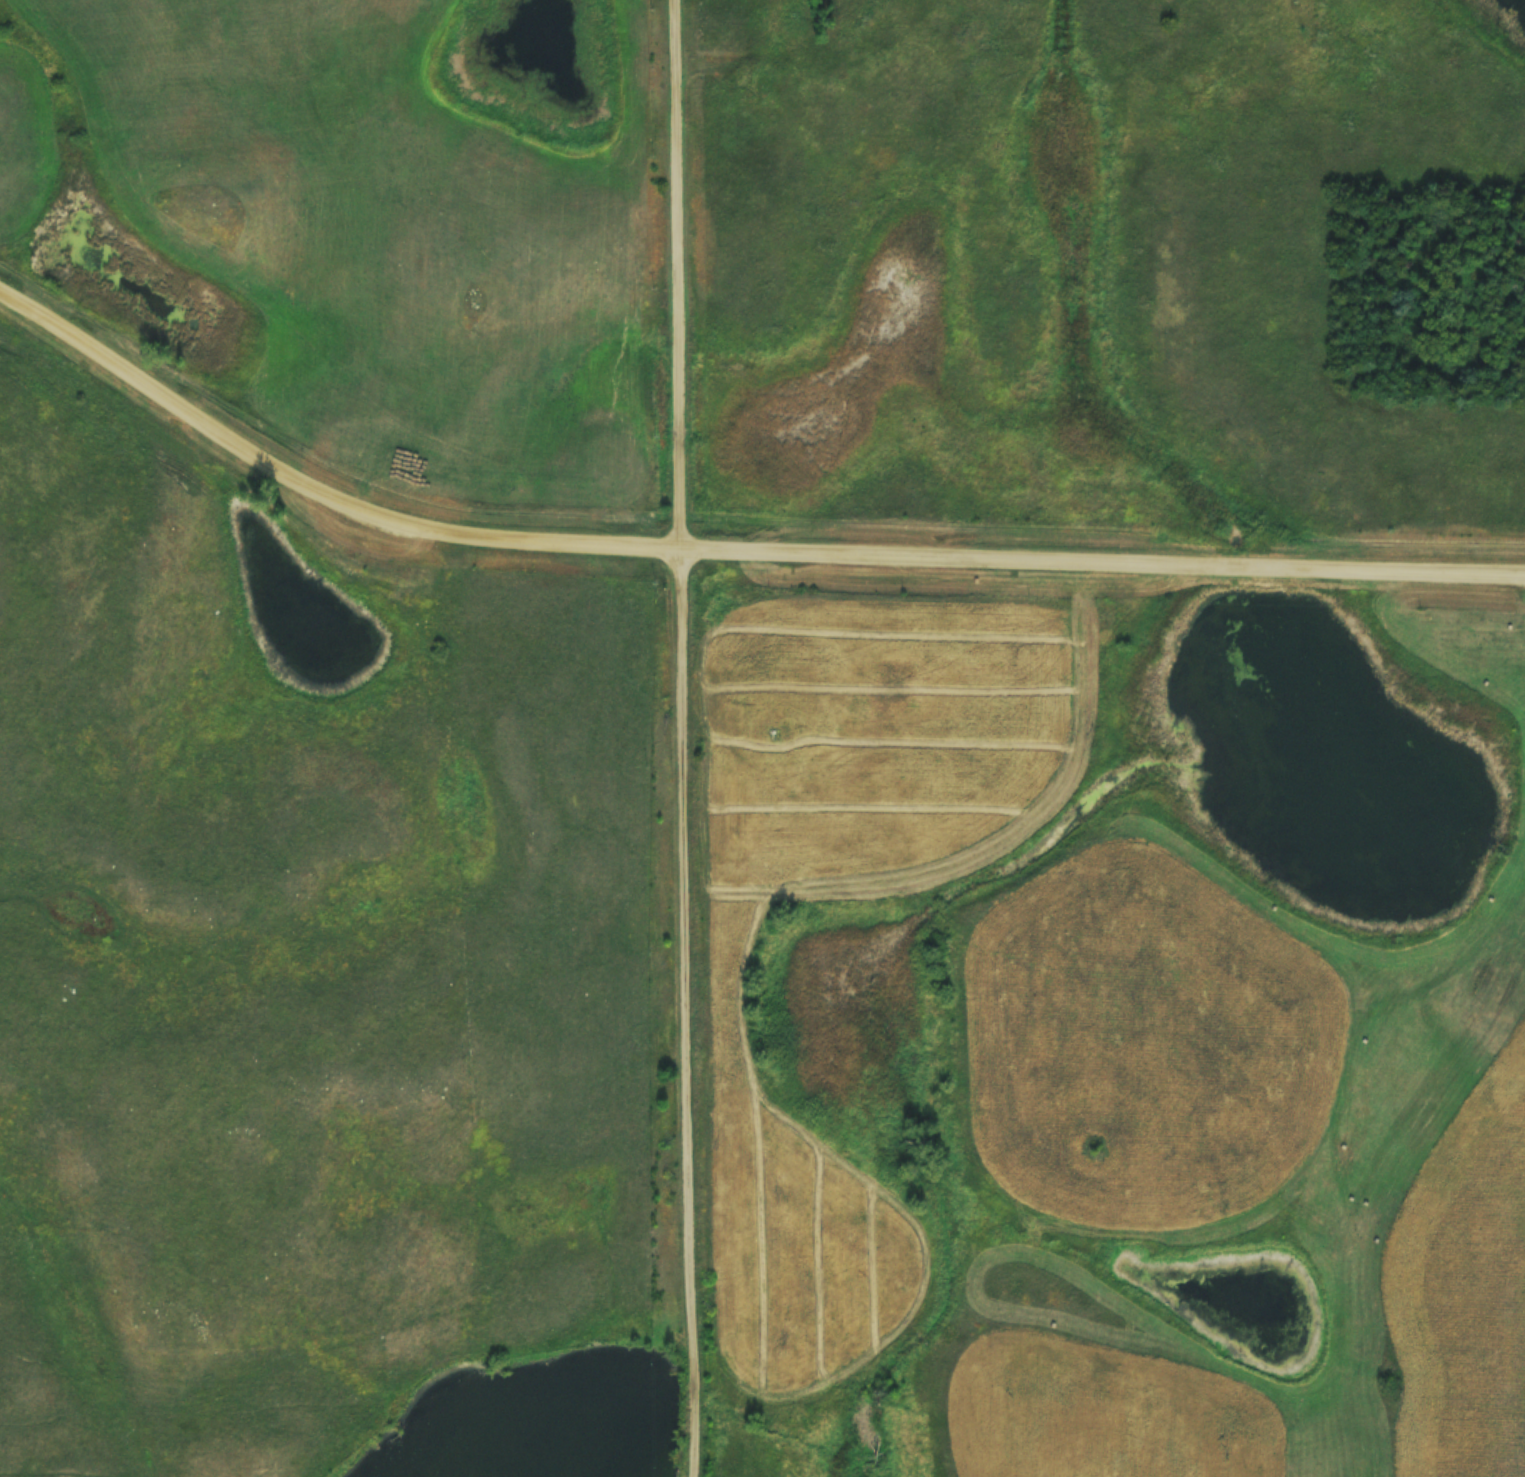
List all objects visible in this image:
road: (728, 559)
river: (1256, 683)
road: (680, 738)

